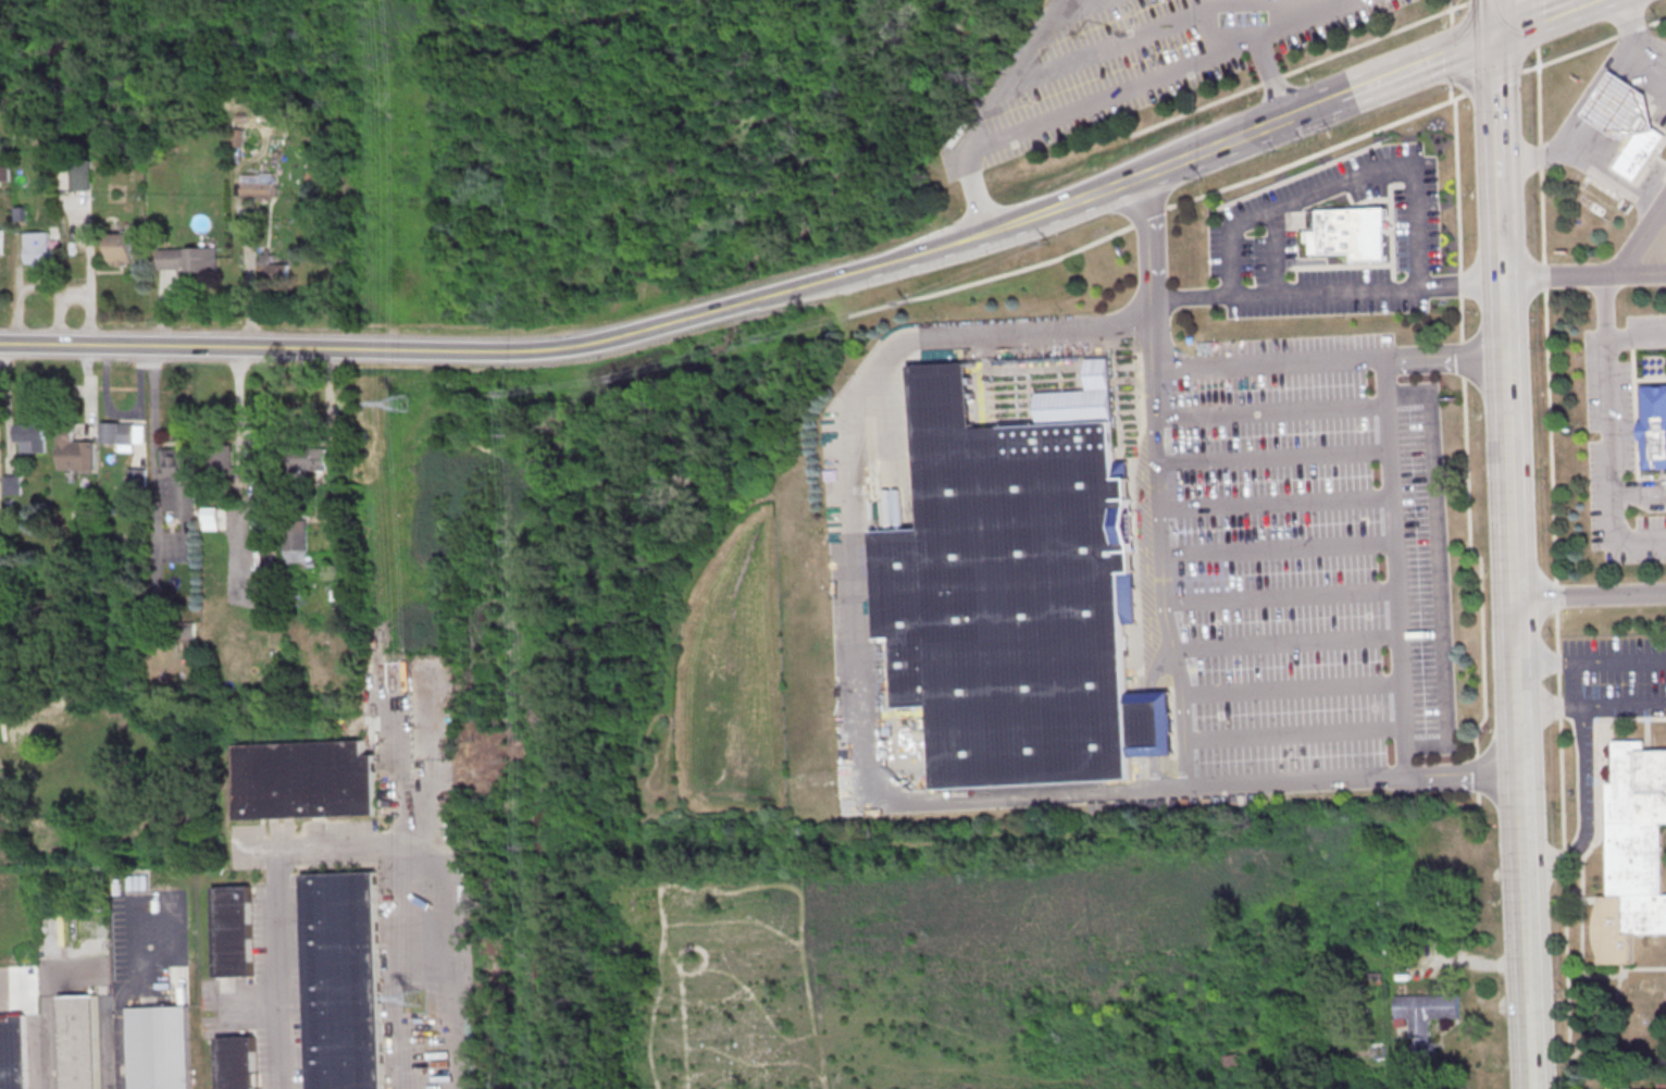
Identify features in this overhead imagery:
road: (1576, 1)
road: (1251, 2)
road: (1491, 17)
road: (1539, 17)
traffic signals: (1492, 36)
road: (1641, 41)
parking lot: (1136, 60)
road: (1415, 65)
road: (1012, 69)
road: (1272, 74)
road: (1492, 78)
road: (1116, 88)
road: (1313, 106)
building: (1620, 108)
road: (1416, 113)
road: (1495, 140)
building: (1639, 151)
road: (1176, 160)
road: (1583, 161)
road: (1496, 173)
building: (82, 175)
road: (1347, 184)
building: (257, 185)
road: (1499, 220)
building: (1351, 235)
road: (1641, 237)
road: (968, 240)
building: (1, 242)
parking lot: (1657, 245)
building: (37, 248)
building: (121, 248)
building: (190, 260)
road: (1501, 264)
building: (273, 268)
road: (1641, 272)
road: (1558, 274)
road: (1502, 279)
road: (1327, 288)
road: (716, 311)
road: (1637, 335)
road: (256, 348)
road: (537, 350)
road: (1329, 360)
road: (90, 394)
power tower: (399, 403)
road: (241, 405)
road: (140, 408)
road: (1270, 411)
building: (1653, 429)
road: (1611, 431)
building: (119, 434)
road: (1507, 436)
building: (32, 438)
parking lot: (1616, 442)
road: (157, 450)
building: (75, 453)
road: (1272, 456)
building: (311, 460)
building: (222, 463)
building: (138, 478)
road: (1639, 482)
building: (178, 483)
building: (12, 486)
road: (1639, 498)
road: (1275, 503)
building: (210, 518)
building: (262, 523)
building: (295, 542)
road: (1554, 544)
road: (1277, 548)
parking lot: (1298, 561)
road: (1394, 568)
road: (1437, 569)
road: (1589, 591)
road: (1281, 596)
road: (854, 597)
building: (1012, 599)
building: (187, 630)
road: (1285, 643)
road: (1173, 646)
road: (1591, 661)
road: (1291, 689)
parking lot: (1608, 693)
road: (1592, 705)
road: (1293, 734)
building: (303, 779)
road: (1581, 807)
road: (1524, 840)
road: (365, 852)
building: (1633, 853)
building: (233, 930)
building: (1371, 979)
building: (344, 980)
road: (120, 991)
power tower: (413, 999)
building: (1425, 1022)
building: (78, 1041)
building: (160, 1047)
building: (12, 1052)
building: (237, 1062)
building: (1624, 1088)

